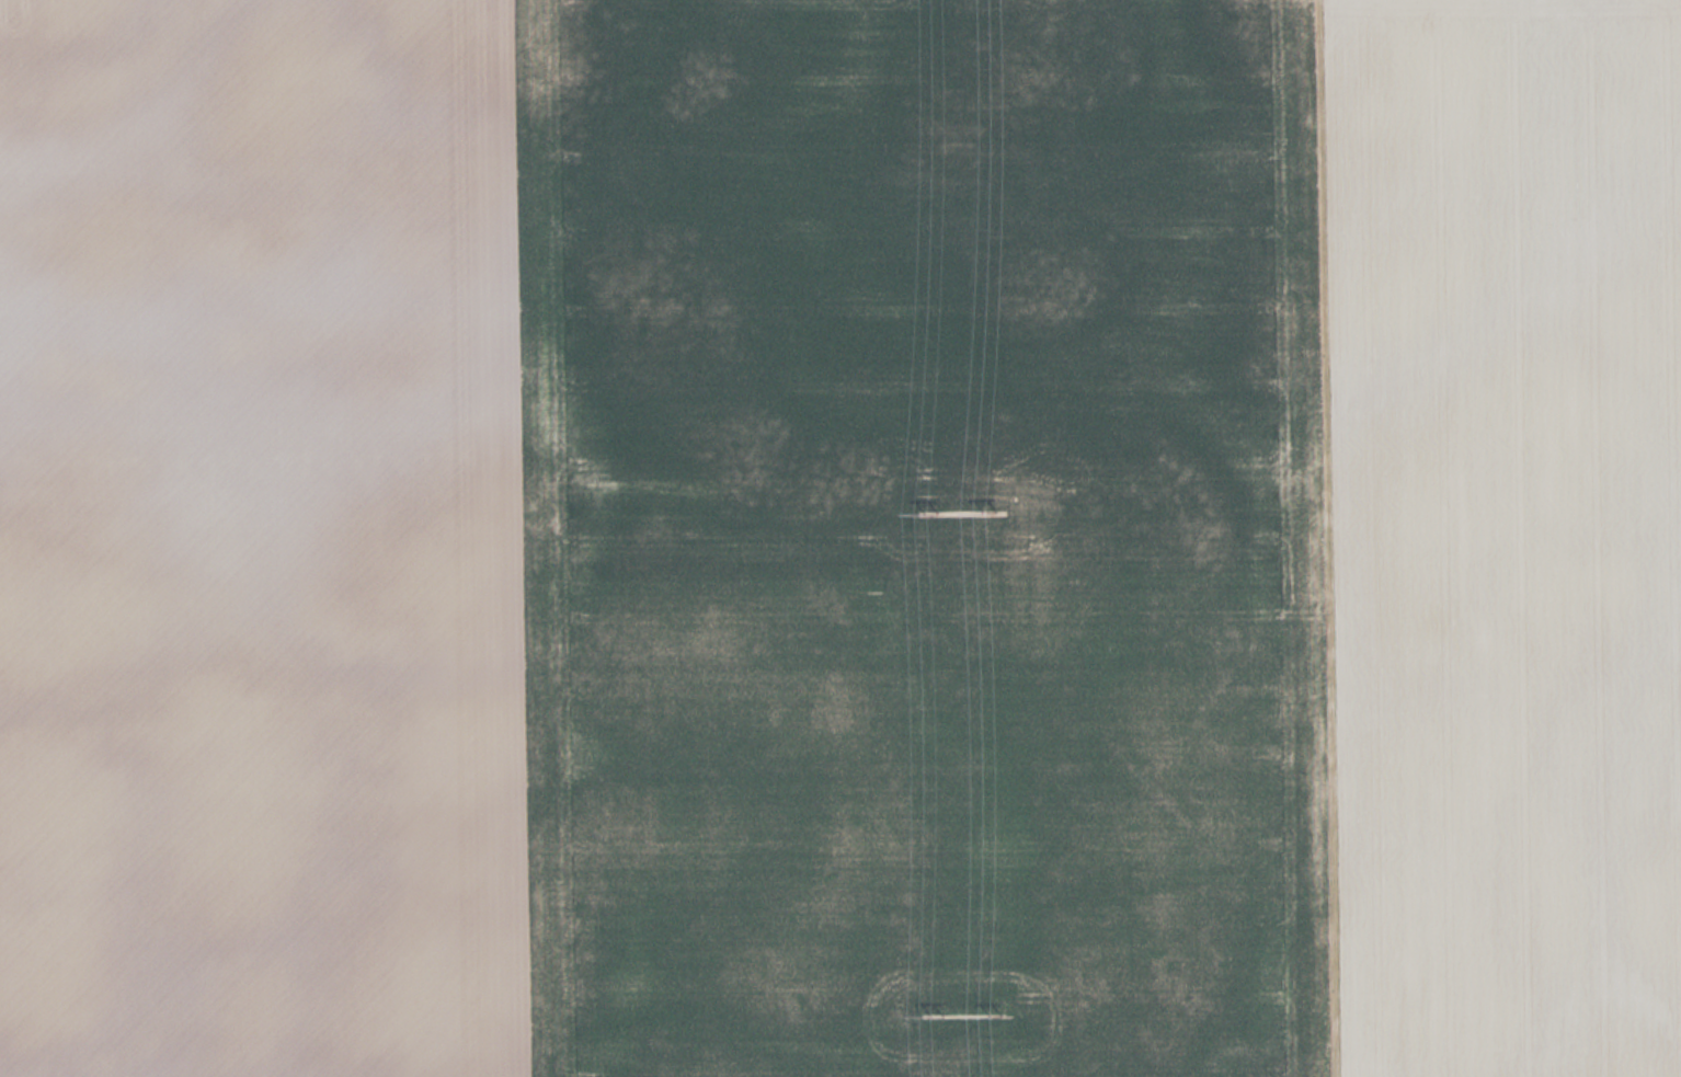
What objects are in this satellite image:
power tower: (925, 506)
power tower: (986, 507)
power tower: (995, 1012)
power tower: (936, 1013)

